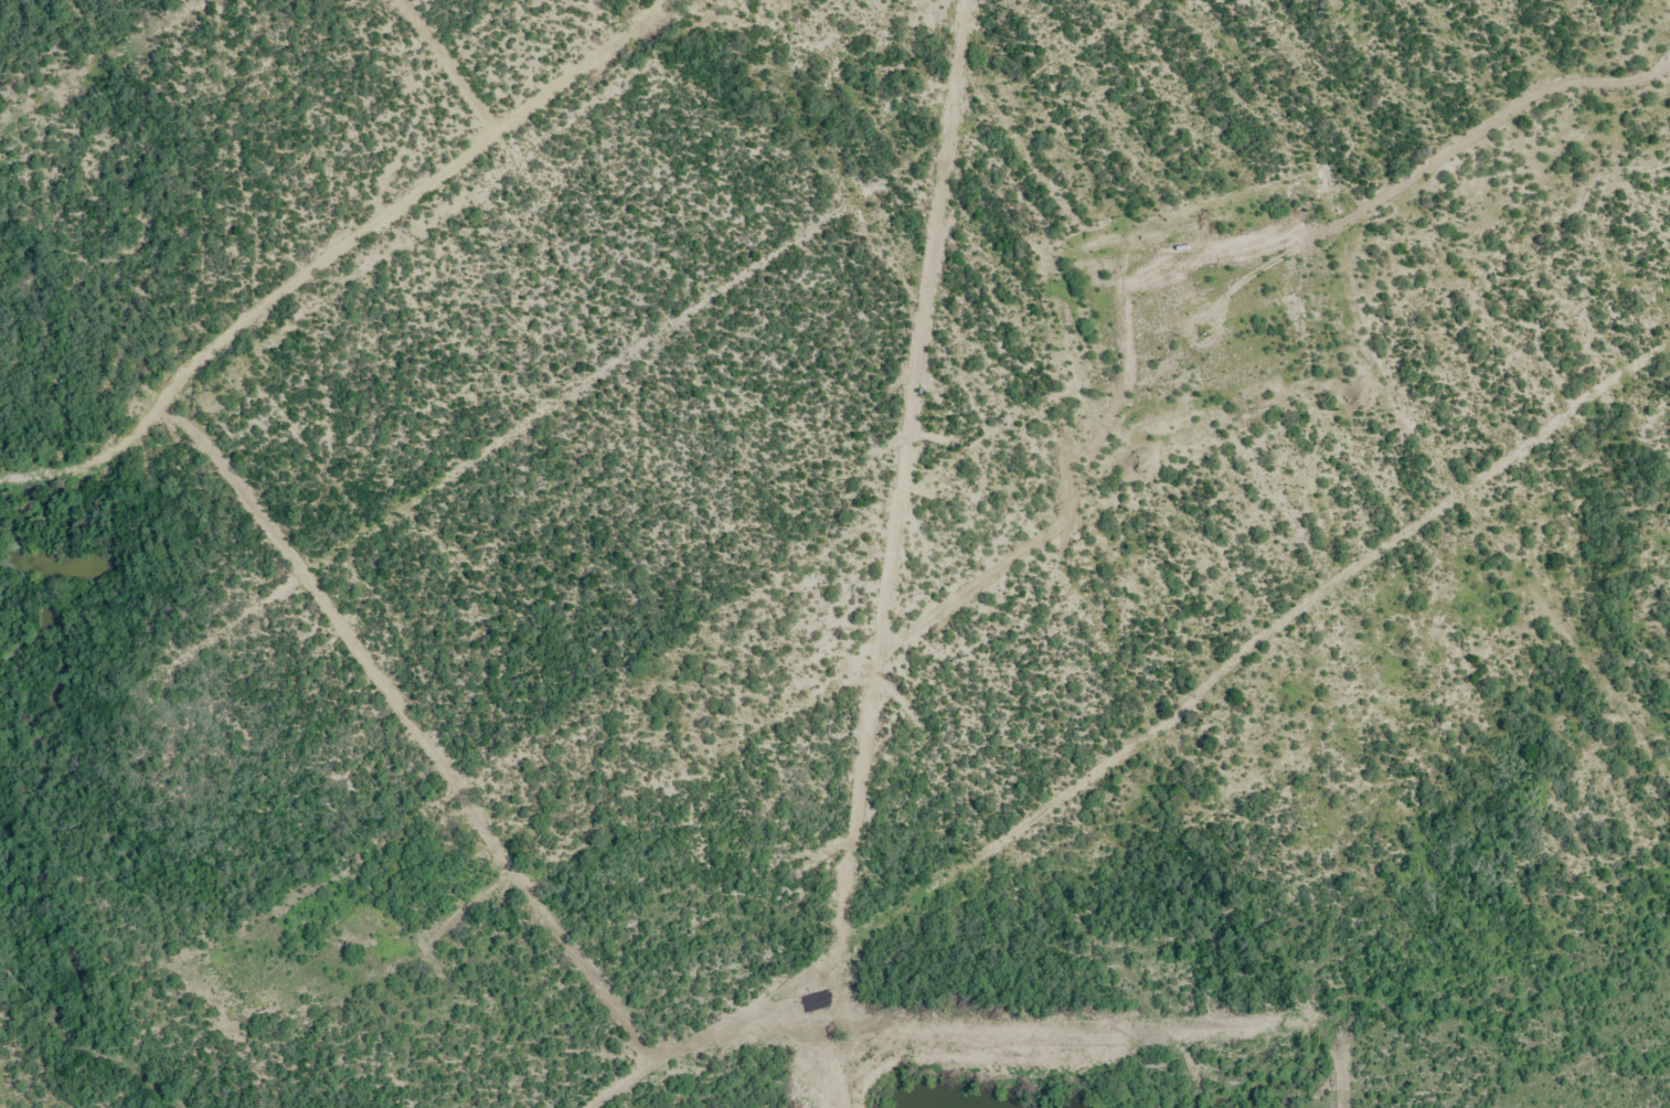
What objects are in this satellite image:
road: (365, 253)

